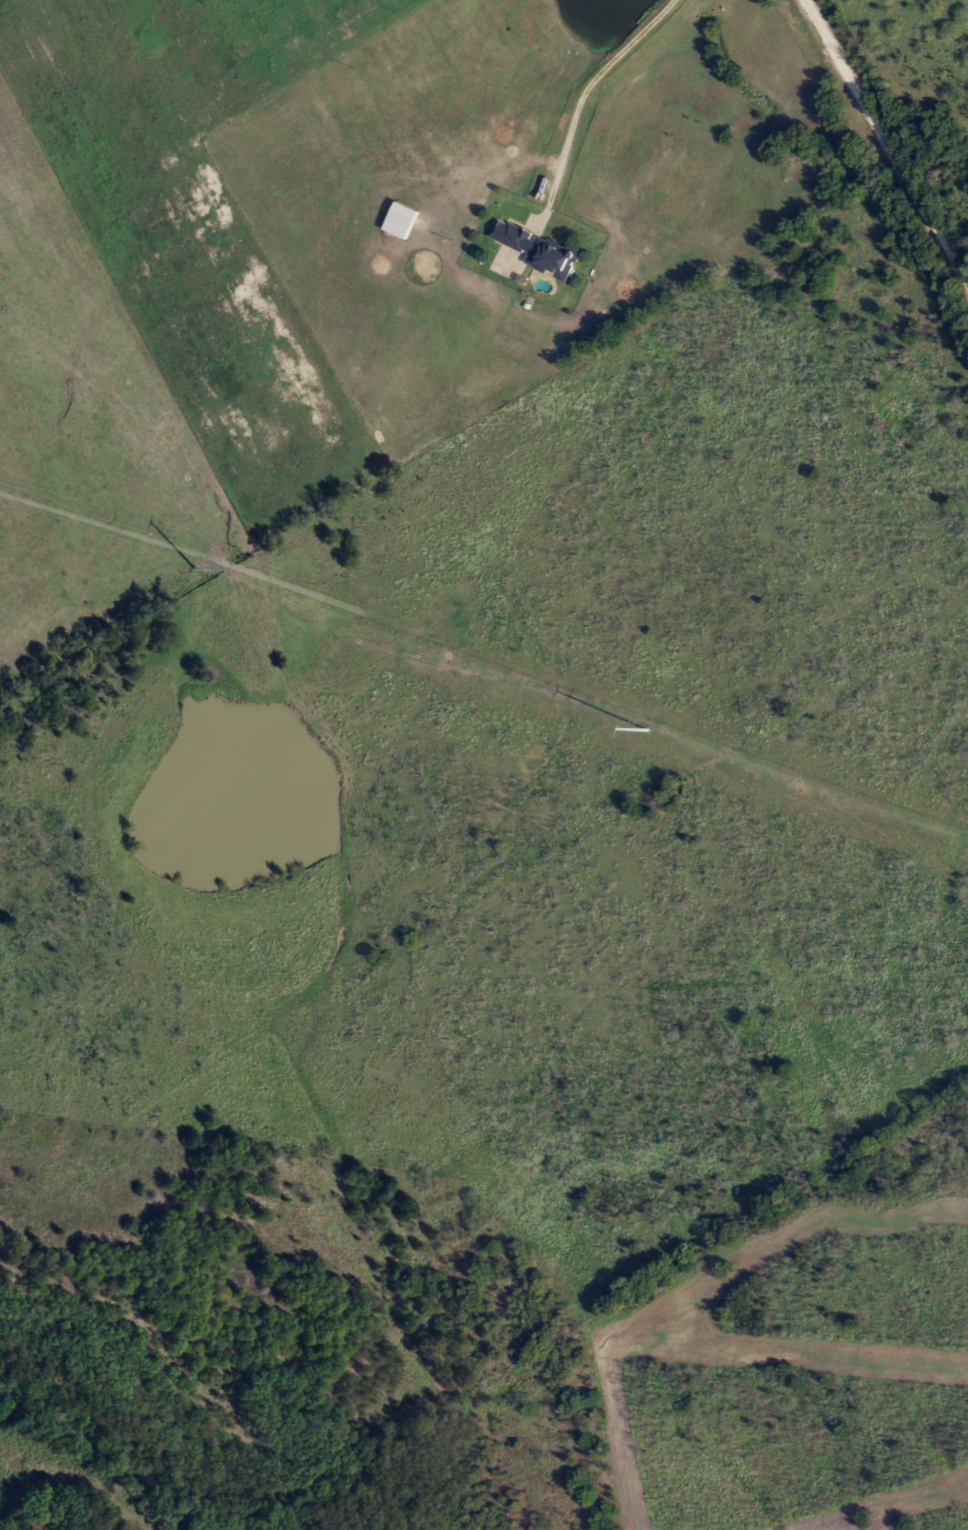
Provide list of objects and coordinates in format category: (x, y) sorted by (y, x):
road: (593, 84)
road: (888, 138)
building: (396, 221)
building: (533, 249)
power tower: (192, 568)
power tower: (648, 730)

